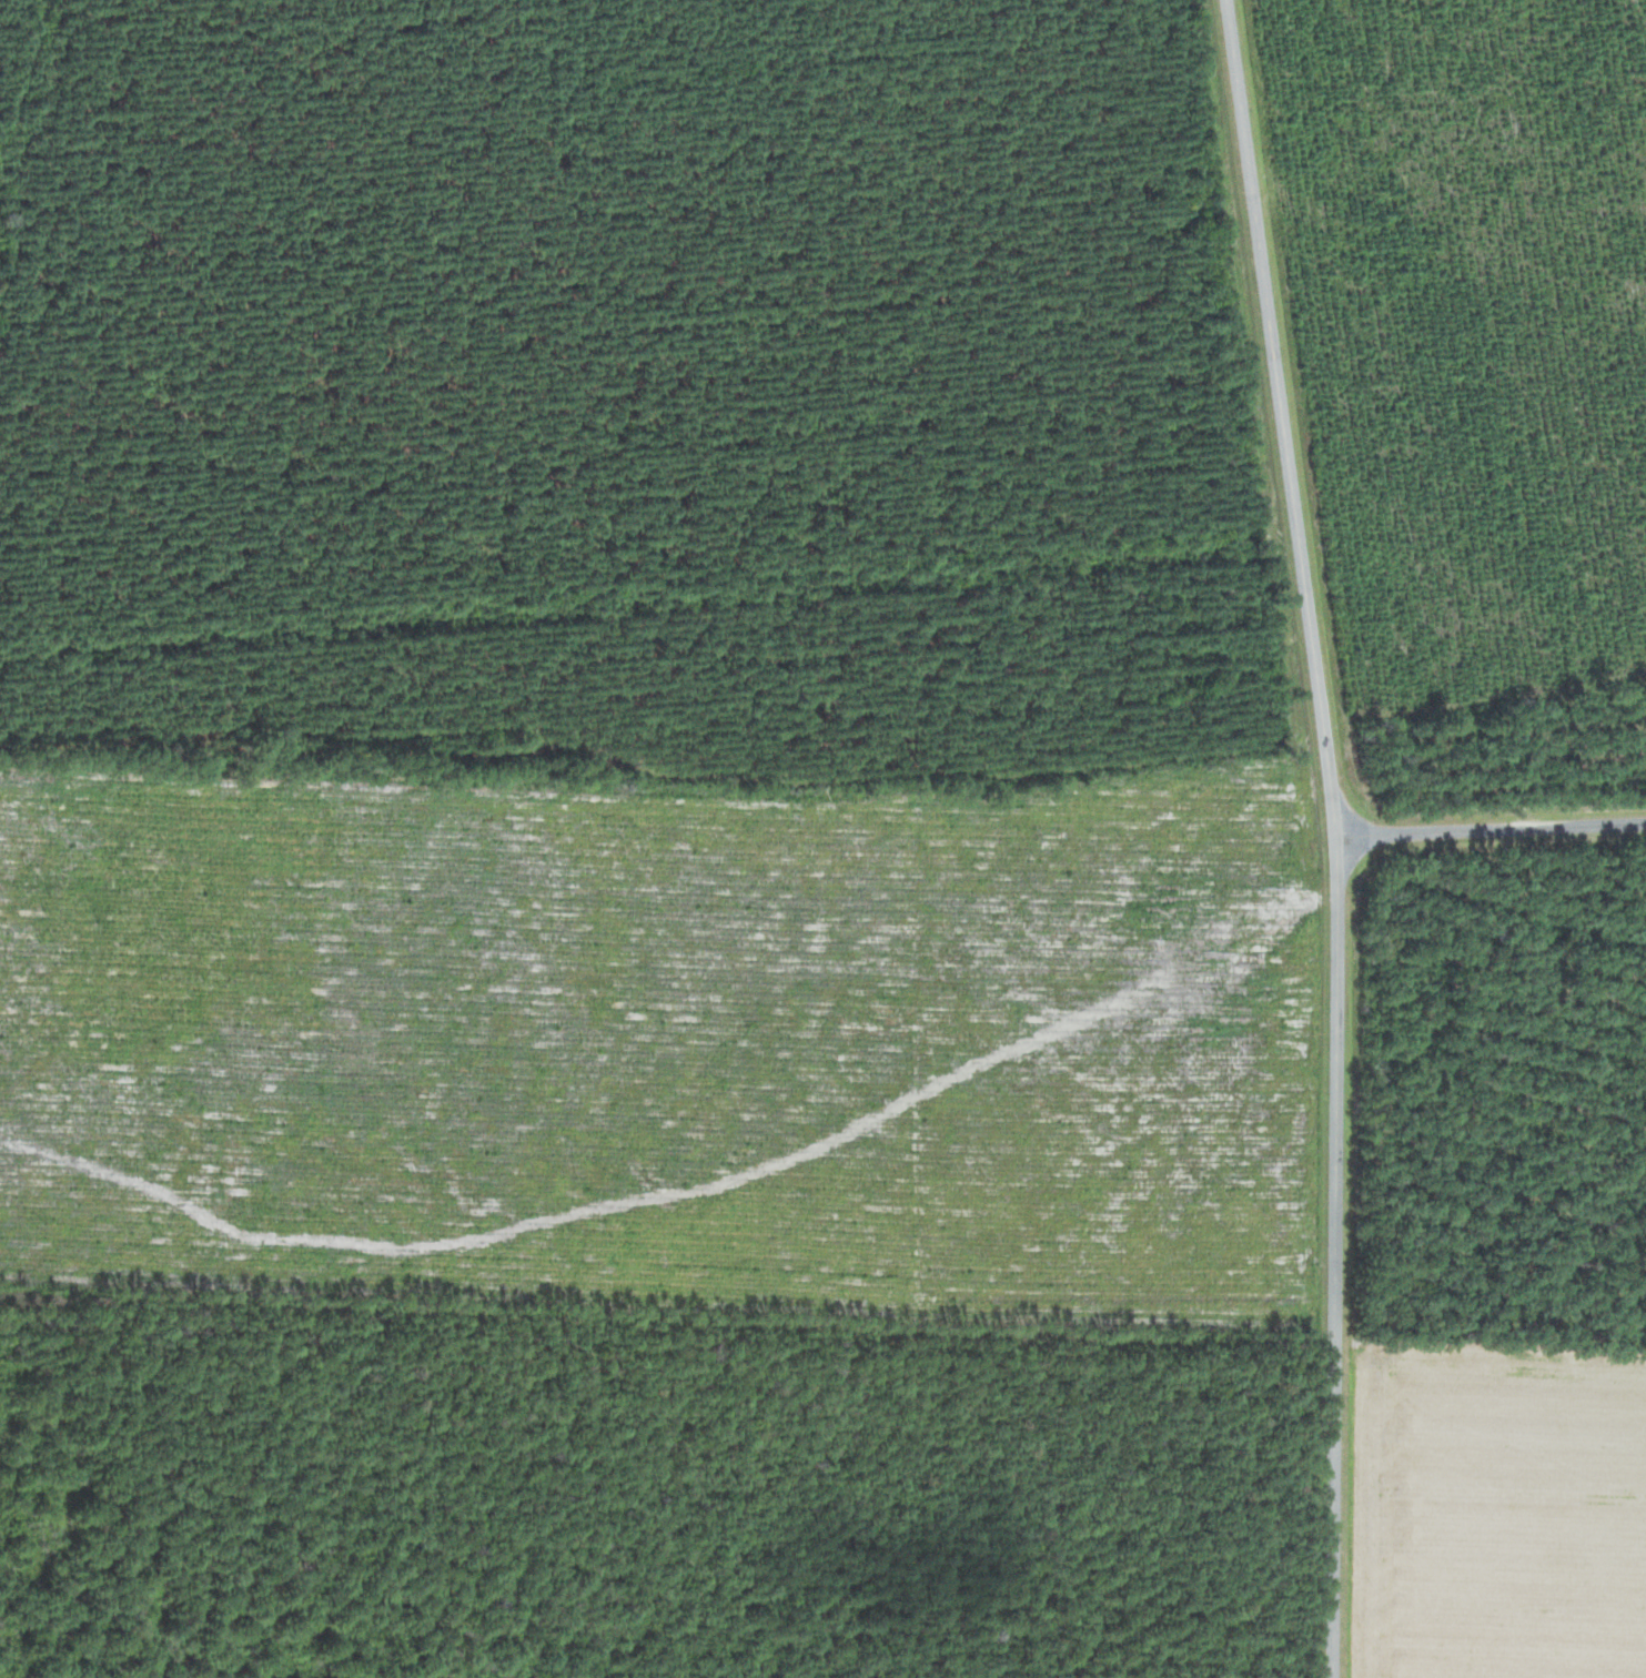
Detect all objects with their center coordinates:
road: (1491, 825)
road: (1336, 835)

